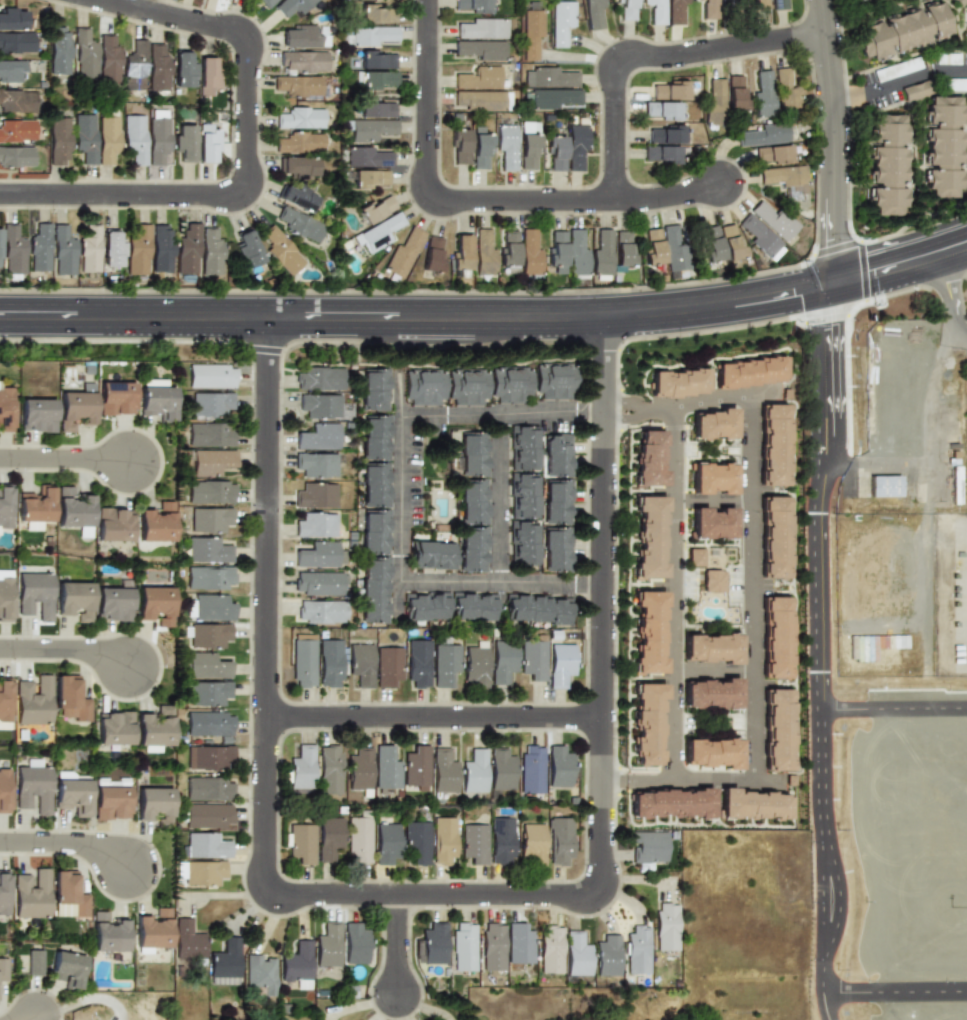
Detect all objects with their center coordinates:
building: (863, 0)
building: (266, 2)
building: (960, 2)
street lamp: (413, 3)
building: (726, 4)
building: (759, 4)
building: (778, 4)
building: (473, 5)
building: (292, 6)
building: (626, 9)
building: (709, 9)
building: (655, 11)
building: (674, 11)
building: (593, 13)
building: (377, 14)
building: (12, 19)
street lamp: (261, 21)
building: (560, 21)
street lamp: (151, 27)
building: (482, 29)
building: (902, 31)
building: (530, 33)
building: (372, 35)
building: (300, 36)
building: (15, 42)
street lamp: (606, 46)
building: (480, 49)
building: (58, 50)
building: (84, 54)
road: (651, 56)
building: (108, 58)
building: (376, 59)
building: (947, 59)
building: (303, 61)
building: (134, 66)
street lamp: (705, 67)
street lamp: (811, 67)
building: (157, 68)
building: (897, 69)
building: (11, 70)
building: (183, 70)
building: (208, 73)
building: (479, 78)
building: (549, 78)
parking lot: (912, 79)
building: (378, 80)
building: (950, 84)
building: (297, 85)
road: (899, 86)
building: (670, 90)
building: (917, 90)
building: (785, 92)
building: (735, 94)
building: (762, 95)
building: (553, 98)
building: (479, 100)
building: (16, 101)
building: (714, 103)
building: (375, 108)
building: (661, 110)
street lamp: (445, 112)
street lamp: (233, 114)
building: (299, 118)
street lamp: (632, 123)
building: (370, 129)
building: (16, 130)
building: (666, 135)
building: (763, 135)
building: (84, 136)
building: (134, 138)
building: (107, 139)
building: (58, 140)
building: (157, 141)
building: (185, 142)
building: (300, 142)
road: (834, 142)
building: (208, 145)
building: (459, 145)
building: (576, 145)
building: (507, 146)
building: (942, 146)
building: (480, 150)
building: (528, 150)
building: (555, 152)
building: (661, 153)
building: (773, 153)
building: (15, 156)
building: (367, 157)
road: (249, 162)
building: (887, 164)
building: (299, 166)
building: (782, 175)
street lamp: (151, 179)
building: (370, 179)
street lamp: (648, 184)
street lamp: (545, 186)
street lamp: (750, 189)
building: (297, 197)
road: (479, 201)
building: (375, 209)
street lamp: (55, 210)
street lamp: (248, 214)
building: (773, 220)
street lamp: (453, 221)
building: (299, 224)
building: (380, 232)
building: (759, 236)
traffic signals: (836, 239)
building: (730, 243)
building: (711, 246)
building: (652, 247)
building: (40, 248)
building: (508, 248)
building: (556, 248)
building: (672, 248)
building: (89, 249)
building: (112, 249)
building: (162, 249)
building: (187, 249)
building: (248, 249)
building: (623, 249)
building: (13, 250)
building: (63, 250)
building: (138, 250)
building: (281, 250)
building: (210, 252)
building: (404, 252)
building: (461, 253)
building: (483, 253)
building: (529, 253)
building: (576, 253)
building: (602, 253)
building: (432, 254)
building: (0, 257)
traffic signals: (870, 277)
street lamp: (546, 289)
traffic signals: (791, 295)
road: (953, 301)
road: (487, 316)
traffic signals: (836, 321)
road: (836, 324)
building: (747, 372)
building: (211, 376)
building: (320, 378)
building: (556, 383)
building: (676, 383)
building: (513, 385)
building: (426, 388)
building: (470, 389)
building: (376, 392)
road: (766, 393)
road: (402, 394)
building: (115, 398)
building: (156, 399)
building: (212, 404)
building: (320, 406)
building: (5, 409)
building: (75, 410)
building: (37, 415)
building: (713, 425)
street lamp: (137, 427)
building: (211, 435)
building: (319, 437)
building: (378, 440)
building: (773, 445)
road: (403, 447)
building: (525, 448)
building: (473, 454)
building: (558, 456)
building: (648, 458)
road: (65, 459)
building: (211, 461)
building: (316, 464)
street lamp: (17, 472)
building: (713, 478)
building: (884, 486)
building: (376, 487)
building: (211, 492)
building: (316, 495)
building: (525, 496)
road: (501, 498)
building: (472, 501)
building: (556, 501)
road: (714, 501)
building: (36, 505)
building: (5, 506)
building: (74, 511)
building: (210, 520)
building: (713, 523)
building: (114, 524)
building: (155, 524)
building: (316, 525)
building: (378, 534)
street lamp: (619, 534)
building: (648, 537)
building: (774, 537)
road: (816, 537)
building: (524, 543)
building: (472, 548)
building: (556, 549)
building: (208, 550)
building: (320, 555)
building: (432, 556)
building: (695, 557)
road: (753, 574)
building: (209, 577)
building: (874, 580)
road: (551, 581)
building: (713, 581)
building: (319, 583)
building: (377, 592)
building: (35, 594)
road: (676, 594)
building: (5, 599)
building: (75, 600)
road: (268, 603)
road: (603, 603)
building: (113, 604)
building: (154, 605)
building: (213, 608)
building: (428, 610)
building: (320, 611)
building: (476, 611)
building: (540, 613)
building: (648, 632)
building: (209, 635)
building: (775, 637)
building: (712, 648)
road: (66, 649)
building: (533, 660)
building: (303, 661)
building: (502, 662)
building: (330, 663)
building: (418, 663)
building: (361, 664)
building: (560, 664)
building: (445, 665)
building: (207, 666)
building: (388, 666)
building: (475, 667)
road: (715, 671)
building: (209, 693)
building: (711, 694)
building: (5, 699)
building: (70, 699)
building: (33, 700)
road: (891, 707)
road: (435, 717)
building: (646, 723)
building: (209, 724)
building: (155, 727)
building: (114, 728)
building: (776, 730)
street lamp: (618, 737)
building: (711, 753)
building: (209, 757)
building: (417, 766)
building: (559, 767)
building: (302, 768)
building: (386, 768)
building: (329, 769)
building: (360, 769)
building: (532, 769)
building: (502, 770)
building: (444, 771)
building: (475, 772)
road: (618, 781)
road: (779, 781)
road: (816, 782)
building: (111, 783)
building: (37, 789)
building: (208, 789)
building: (5, 791)
building: (76, 796)
building: (114, 802)
building: (670, 803)
building: (751, 804)
building: (158, 806)
building: (208, 815)
building: (329, 839)
building: (358, 840)
building: (443, 840)
building: (559, 841)
road: (67, 842)
building: (301, 843)
building: (386, 843)
building: (417, 843)
building: (474, 843)
building: (532, 844)
building: (205, 846)
building: (647, 846)
building: (204, 873)
building: (5, 894)
building: (72, 894)
road: (434, 894)
building: (35, 896)
road: (826, 911)
building: (665, 927)
building: (153, 929)
building: (107, 933)
building: (188, 940)
road: (399, 943)
building: (434, 943)
building: (355, 944)
building: (519, 944)
building: (328, 945)
building: (463, 947)
building: (491, 947)
building: (550, 949)
building: (637, 950)
building: (576, 954)
building: (606, 956)
building: (226, 959)
building: (34, 962)
building: (297, 965)
building: (67, 969)
building: (4, 970)
building: (260, 974)
building: (224, 980)
road: (823, 983)
road: (894, 987)
road: (82, 1002)
road: (827, 1007)
road: (34, 1019)

